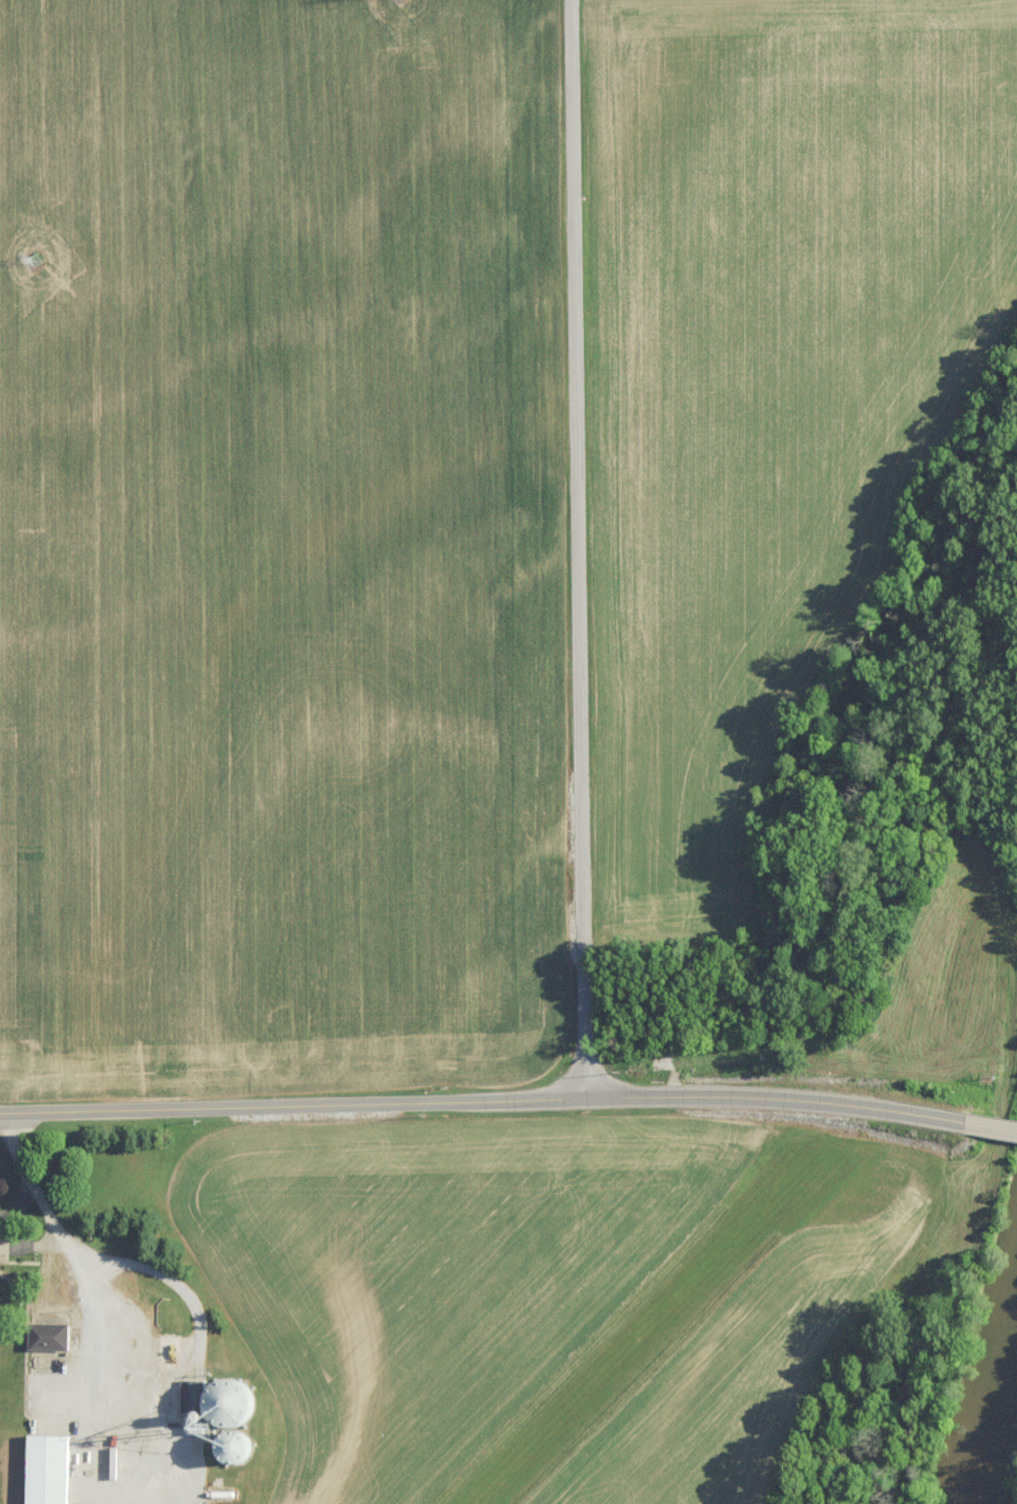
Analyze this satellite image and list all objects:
power tower: (34, 246)
road: (575, 547)
road: (486, 1097)
road: (994, 1125)
road: (19, 1203)
road: (92, 1301)
building: (43, 1336)
building: (216, 1420)
river: (987, 1440)
building: (45, 1468)

